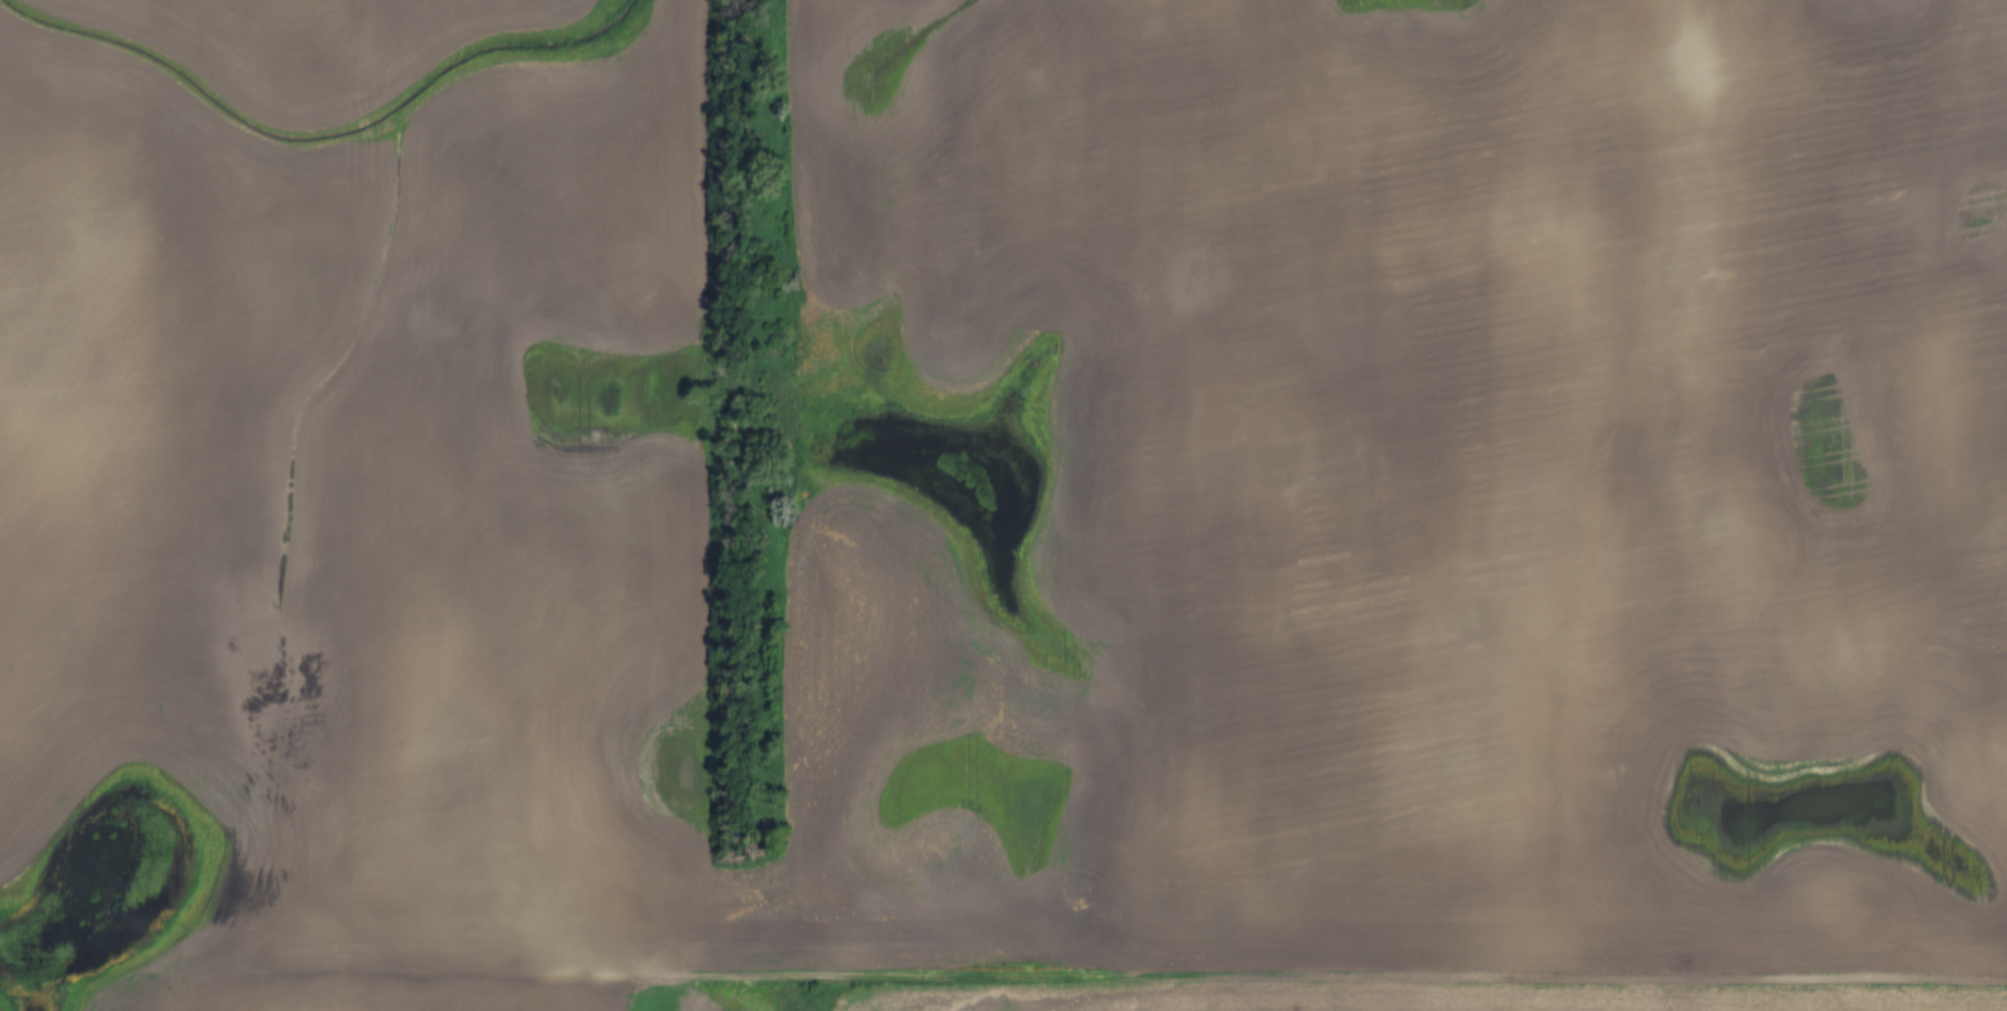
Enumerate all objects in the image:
road: (1003, 978)
road: (628, 993)

